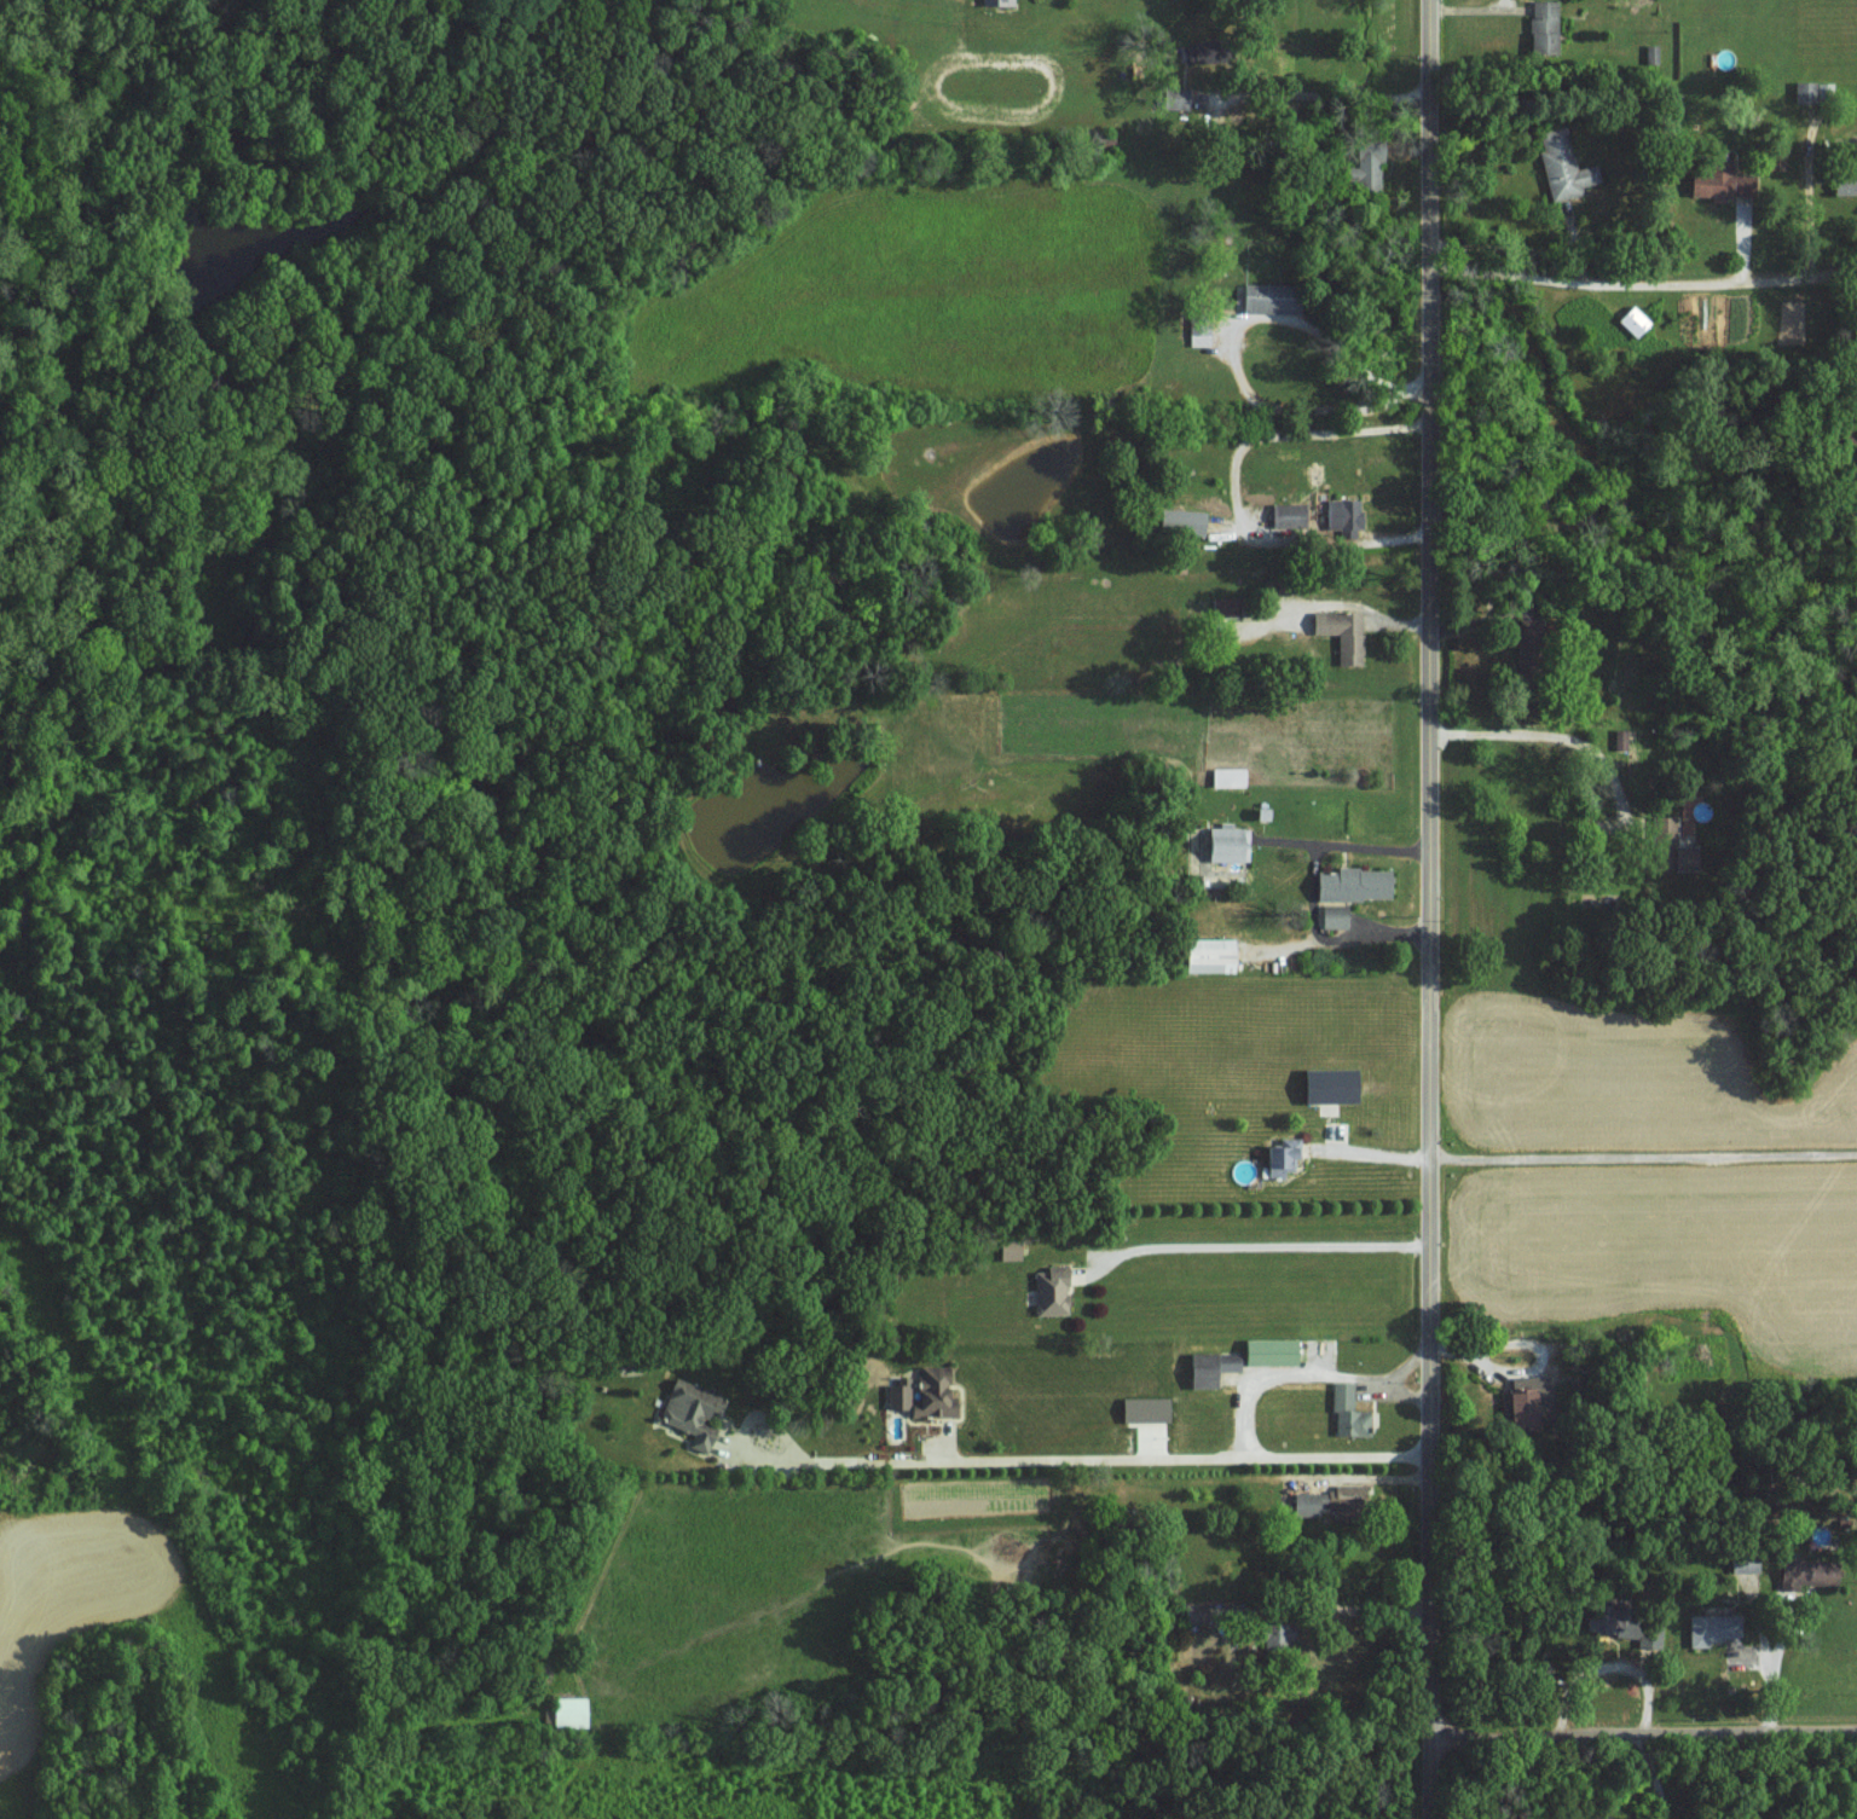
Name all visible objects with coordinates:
building: (995, 1)
building: (1541, 25)
building: (1650, 52)
building: (1803, 89)
building: (1173, 97)
building: (1774, 161)
building: (1365, 164)
building: (1561, 164)
building: (1711, 180)
building: (1844, 180)
road: (1644, 270)
building: (1265, 297)
building: (1632, 320)
road: (1234, 482)
building: (1285, 515)
building: (1342, 515)
building: (1176, 520)
building: (1221, 606)
building: (1340, 632)
building: (1619, 738)
building: (1668, 833)
building: (1225, 842)
road: (1350, 847)
building: (1350, 884)
road: (1431, 909)
building: (1331, 915)
road: (1344, 938)
building: (1207, 955)
building: (1325, 1084)
building: (1279, 1157)
road: (1643, 1158)
road: (1261, 1245)
building: (1049, 1291)
building: (1267, 1351)
building: (1208, 1367)
road: (1306, 1373)
building: (921, 1392)
building: (1526, 1401)
building: (1142, 1409)
building: (689, 1410)
building: (1346, 1412)
road: (1089, 1455)
building: (1327, 1500)
building: (1742, 1562)
building: (1805, 1571)
building: (1608, 1618)
building: (1711, 1627)
building: (1648, 1632)
building: (1273, 1633)
building: (567, 1710)
road: (1644, 1736)

